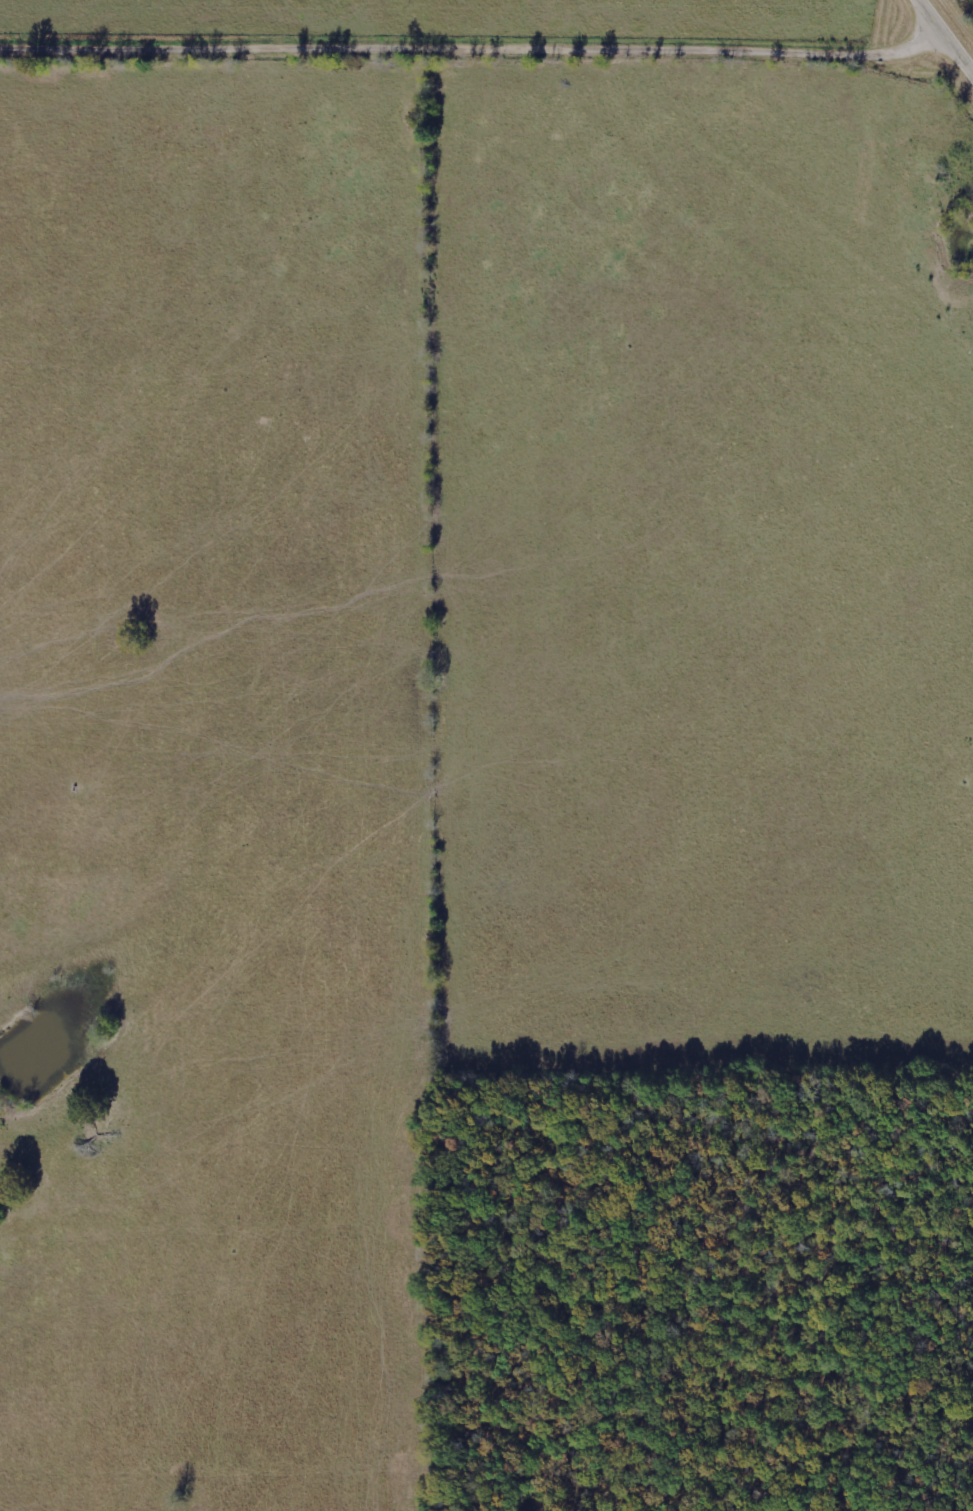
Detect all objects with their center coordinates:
road: (945, 37)
road: (480, 52)

